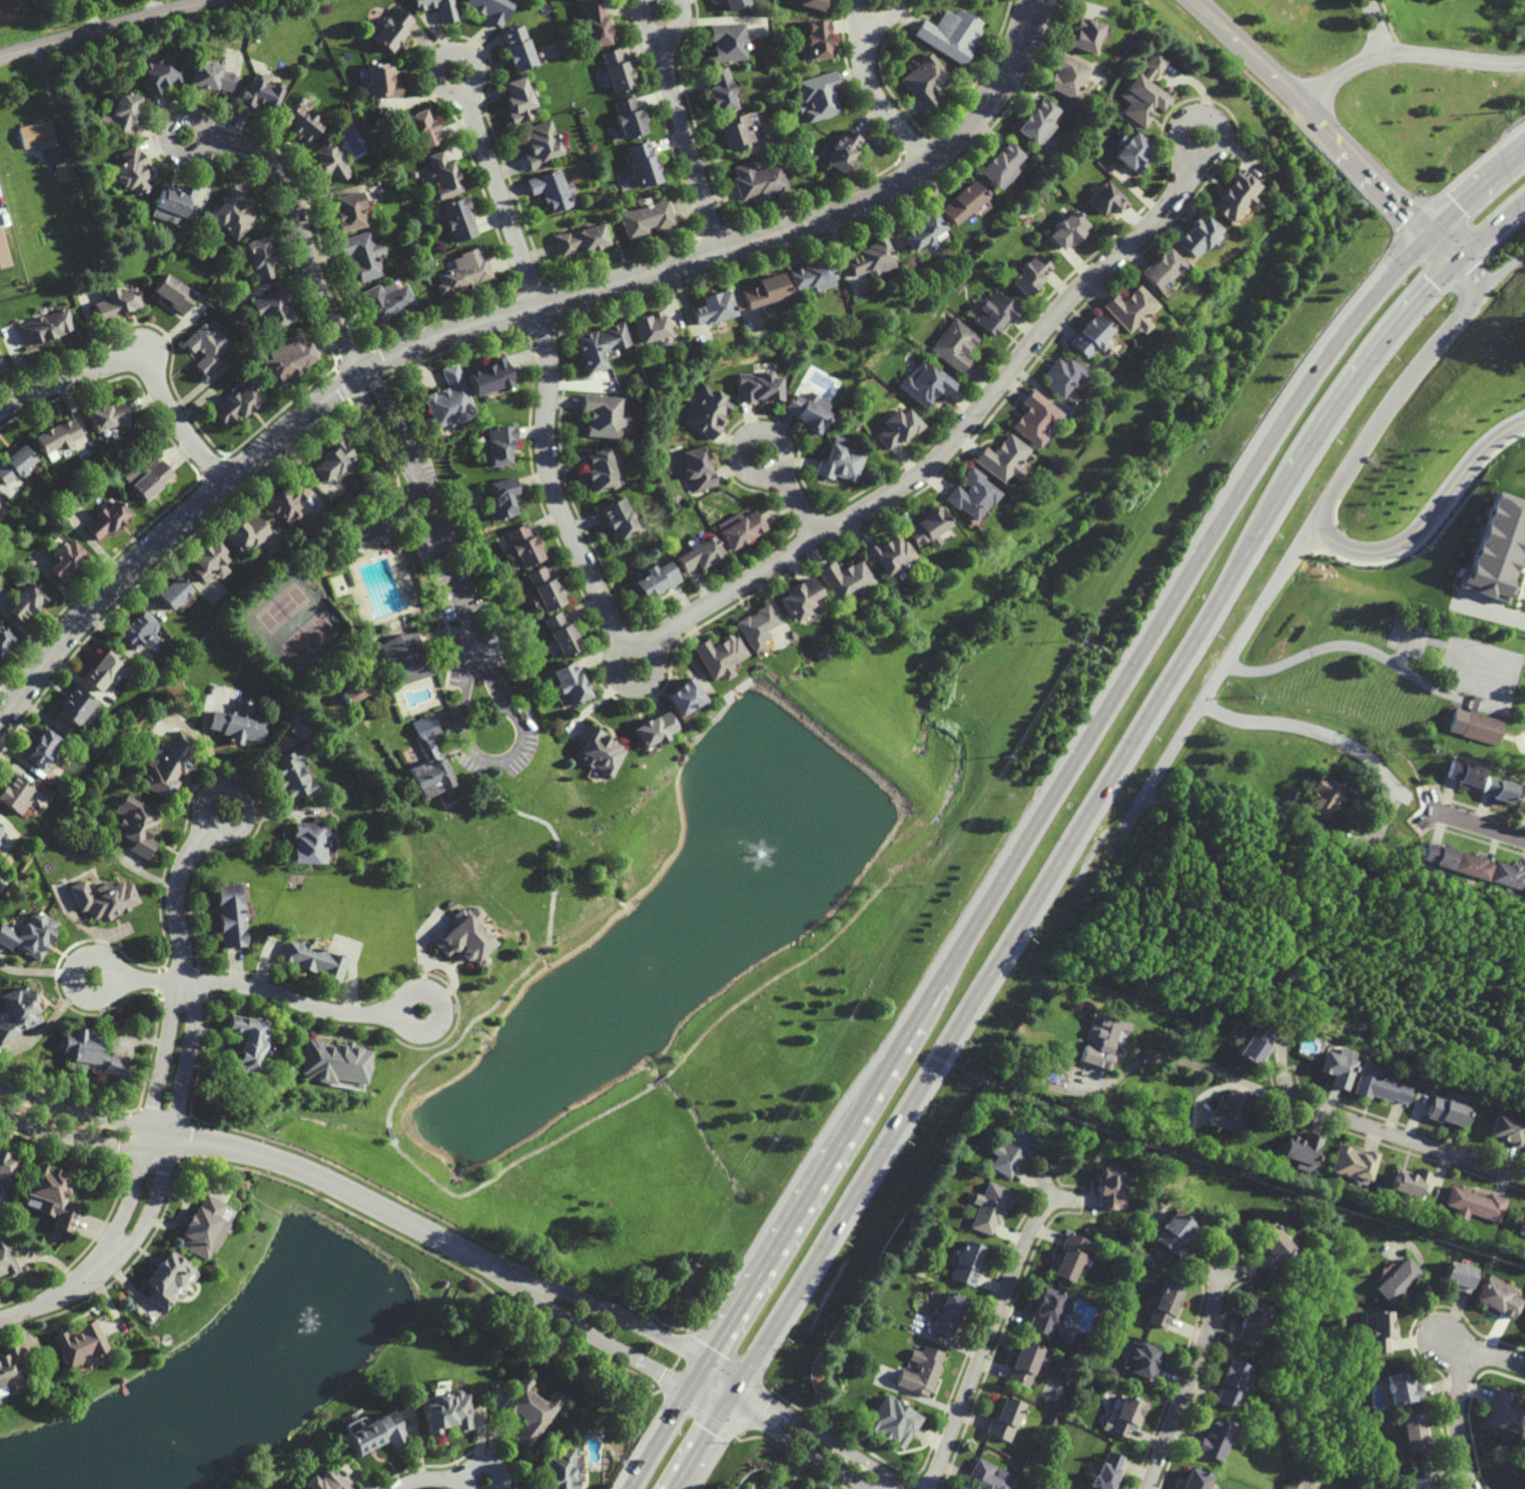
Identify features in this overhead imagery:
building: (732, 3)
building: (810, 3)
building: (437, 8)
building: (490, 9)
road: (1028, 12)
road: (1038, 12)
road: (876, 21)
building: (594, 25)
road: (1371, 27)
road: (105, 28)
building: (390, 29)
building: (949, 34)
road: (662, 35)
building: (1083, 35)
building: (817, 39)
building: (725, 41)
building: (516, 48)
road: (462, 53)
road: (1406, 55)
building: (616, 70)
building: (159, 74)
building: (210, 76)
building: (1065, 76)
building: (381, 80)
building: (924, 80)
building: (717, 90)
building: (260, 93)
building: (817, 95)
road: (878, 99)
building: (1141, 100)
building: (518, 101)
building: (122, 113)
road: (1195, 115)
building: (627, 118)
building: (299, 121)
building: (1034, 122)
road: (169, 126)
road: (1327, 127)
building: (419, 130)
building: (733, 131)
building: (35, 133)
road: (688, 143)
building: (539, 144)
building: (841, 151)
building: (1131, 151)
building: (328, 163)
building: (640, 164)
building: (999, 165)
building: (131, 171)
building: (65, 173)
building: (440, 176)
building: (756, 181)
building: (550, 190)
building: (1234, 194)
building: (174, 199)
building: (1106, 199)
building: (961, 204)
building: (346, 212)
building: (232, 214)
building: (644, 218)
building: (457, 220)
building: (1065, 231)
traffic signals: (1429, 231)
building: (920, 232)
road: (307, 234)
building: (1195, 236)
building: (580, 240)
building: (361, 255)
building: (259, 258)
building: (869, 260)
traffic signals: (1458, 262)
building: (1160, 269)
building: (464, 272)
building: (1029, 274)
road: (1471, 275)
building: (809, 277)
building: (173, 291)
building: (763, 292)
building: (116, 301)
building: (386, 302)
building: (273, 306)
building: (710, 306)
building: (1129, 308)
building: (993, 312)
road: (489, 319)
building: (46, 325)
building: (649, 325)
building: (1088, 334)
building: (599, 344)
building: (953, 344)
building: (206, 346)
building: (291, 357)
road: (137, 365)
building: (490, 375)
building: (1061, 375)
building: (925, 383)
building: (757, 386)
building: (449, 399)
building: (237, 403)
building: (806, 410)
building: (708, 411)
building: (601, 413)
building: (108, 415)
building: (1032, 417)
building: (897, 426)
road: (756, 433)
building: (57, 435)
building: (499, 443)
building: (1000, 458)
building: (333, 459)
road: (404, 461)
building: (838, 462)
building: (15, 463)
building: (697, 467)
building: (599, 469)
building: (151, 478)
building: (971, 493)
building: (501, 496)
building: (287, 499)
road: (797, 501)
building: (618, 517)
building: (107, 519)
building: (302, 520)
road: (1433, 520)
building: (927, 526)
building: (360, 527)
building: (739, 527)
road: (1311, 530)
building: (246, 532)
building: (523, 544)
building: (1496, 546)
building: (887, 552)
building: (698, 553)
building: (65, 558)
building: (210, 561)
road: (444, 562)
building: (655, 579)
building: (842, 579)
building: (544, 588)
building: (173, 591)
building: (797, 598)
building: (26, 601)
road: (709, 606)
road: (1494, 613)
building: (755, 626)
building: (137, 629)
building: (561, 634)
building: (4, 638)
building: (718, 655)
building: (405, 659)
road: (1399, 663)
building: (102, 669)
building: (569, 683)
road: (629, 683)
building: (354, 691)
road: (1445, 694)
building: (682, 696)
building: (76, 707)
road: (922, 708)
building: (239, 722)
building: (1473, 727)
road: (1306, 728)
building: (652, 729)
dam: (843, 736)
building: (43, 748)
building: (598, 751)
building: (297, 760)
building: (427, 761)
road: (500, 763)
building: (171, 765)
building: (1462, 773)
building: (1498, 790)
building: (1325, 795)
building: (15, 796)
road: (1052, 796)
building: (1521, 797)
road: (240, 802)
road: (1481, 825)
building: (137, 827)
road: (1075, 827)
building: (1, 832)
road: (1366, 836)
building: (310, 843)
building: (1439, 855)
building: (1472, 866)
building: (1509, 874)
building: (103, 897)
road: (176, 899)
building: (229, 912)
building: (29, 933)
building: (467, 941)
road: (542, 957)
building: (314, 958)
road: (79, 967)
road: (782, 973)
road: (149, 980)
road: (187, 982)
road: (294, 1000)
building: (19, 1011)
road: (438, 1014)
building: (1239, 1031)
building: (1105, 1039)
building: (249, 1044)
building: (1254, 1045)
building: (90, 1052)
building: (333, 1061)
road: (1182, 1061)
building: (1338, 1067)
road: (660, 1079)
building: (1378, 1085)
building: (1230, 1111)
building: (1446, 1111)
road: (99, 1120)
building: (1506, 1129)
road: (390, 1133)
road: (1403, 1137)
road: (99, 1142)
building: (1010, 1149)
building: (1303, 1150)
road: (517, 1161)
building: (1352, 1164)
building: (6, 1166)
building: (1410, 1181)
building: (1108, 1190)
road: (350, 1193)
building: (52, 1195)
building: (1476, 1204)
road: (127, 1207)
building: (989, 1207)
road: (147, 1217)
building: (1522, 1225)
building: (204, 1227)
building: (1172, 1230)
building: (1270, 1244)
building: (1069, 1256)
building: (6, 1258)
building: (965, 1263)
building: (1458, 1277)
building: (168, 1280)
building: (1398, 1281)
building: (1498, 1296)
road: (45, 1304)
building: (1159, 1305)
building: (1046, 1311)
building: (948, 1313)
road: (618, 1319)
building: (1249, 1324)
building: (1377, 1330)
road: (990, 1336)
road: (605, 1342)
building: (79, 1344)
road: (1458, 1347)
building: (1139, 1358)
building: (1026, 1363)
traffic signals: (706, 1364)
building: (10, 1368)
building: (921, 1370)
building: (121, 1379)
road: (1189, 1380)
building: (1228, 1381)
traffic signals: (742, 1382)
building: (1401, 1388)
traffic signals: (690, 1389)
road: (1457, 1397)
traffic signals: (725, 1409)
building: (528, 1411)
building: (1502, 1412)
building: (444, 1414)
building: (1006, 1419)
building: (1121, 1419)
building: (893, 1421)
building: (1412, 1431)
road: (822, 1435)
building: (371, 1436)
building: (1213, 1439)
road: (796, 1449)
road: (484, 1464)
building: (1105, 1470)
building: (559, 1471)
building: (985, 1477)
building: (1418, 1477)
road: (431, 1478)
building: (1193, 1480)
building: (323, 1483)
building: (768, 1488)

